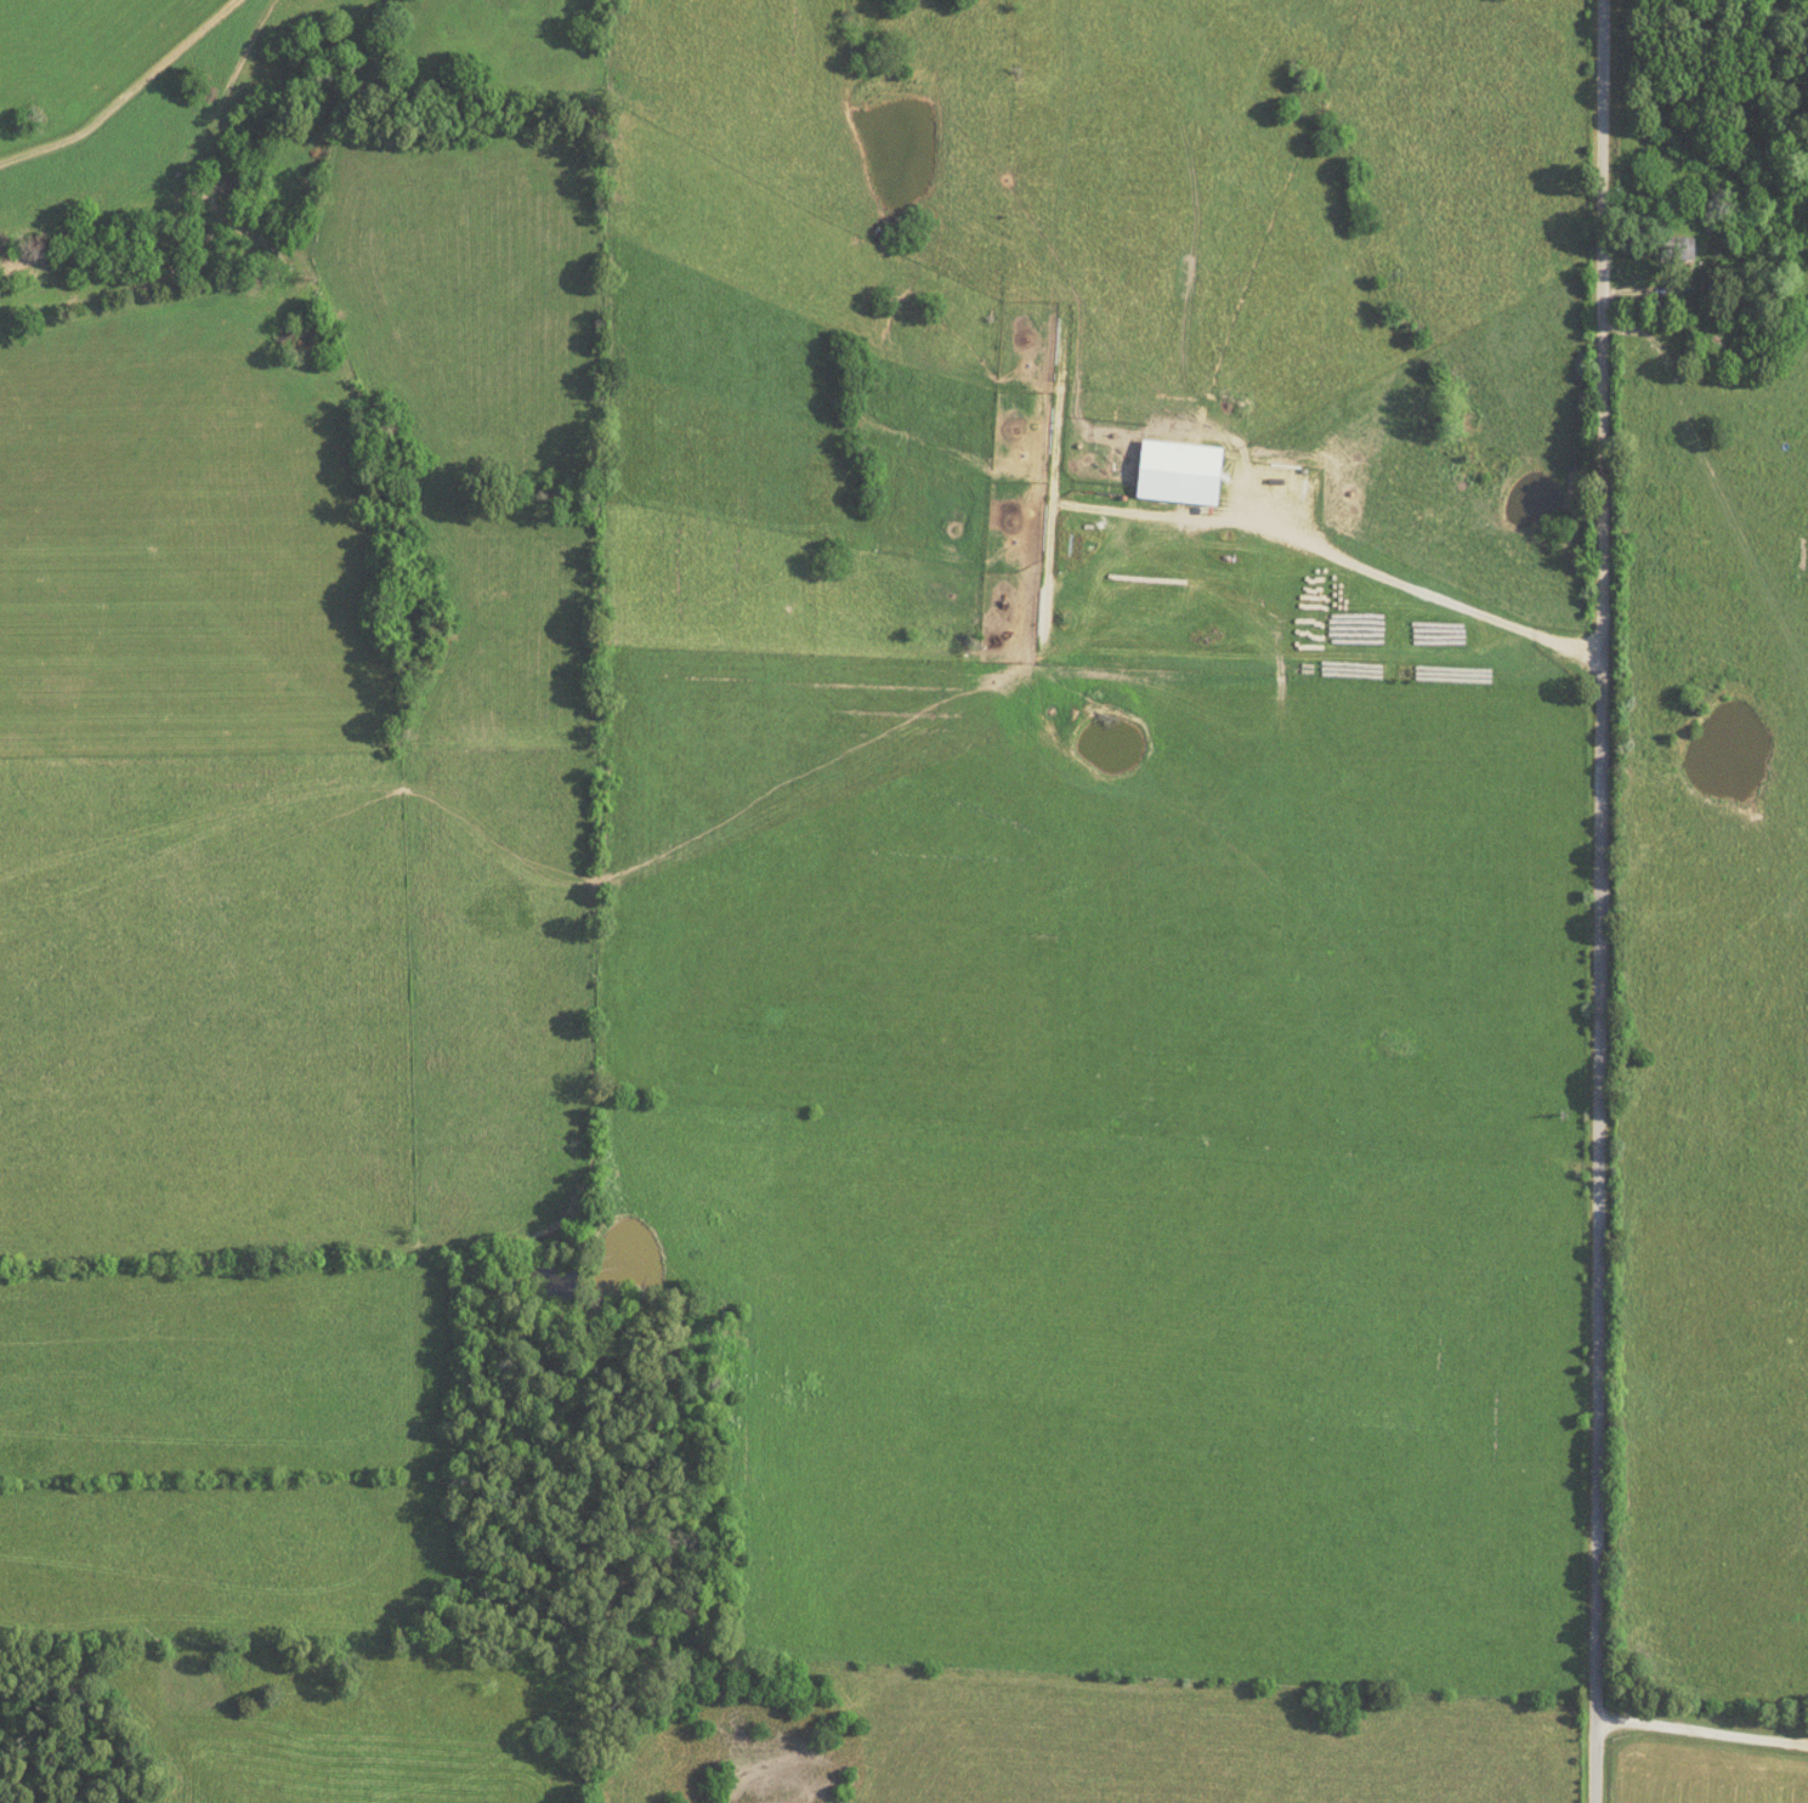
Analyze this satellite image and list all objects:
building: (1674, 249)
road: (1606, 901)
road: (1704, 1729)

